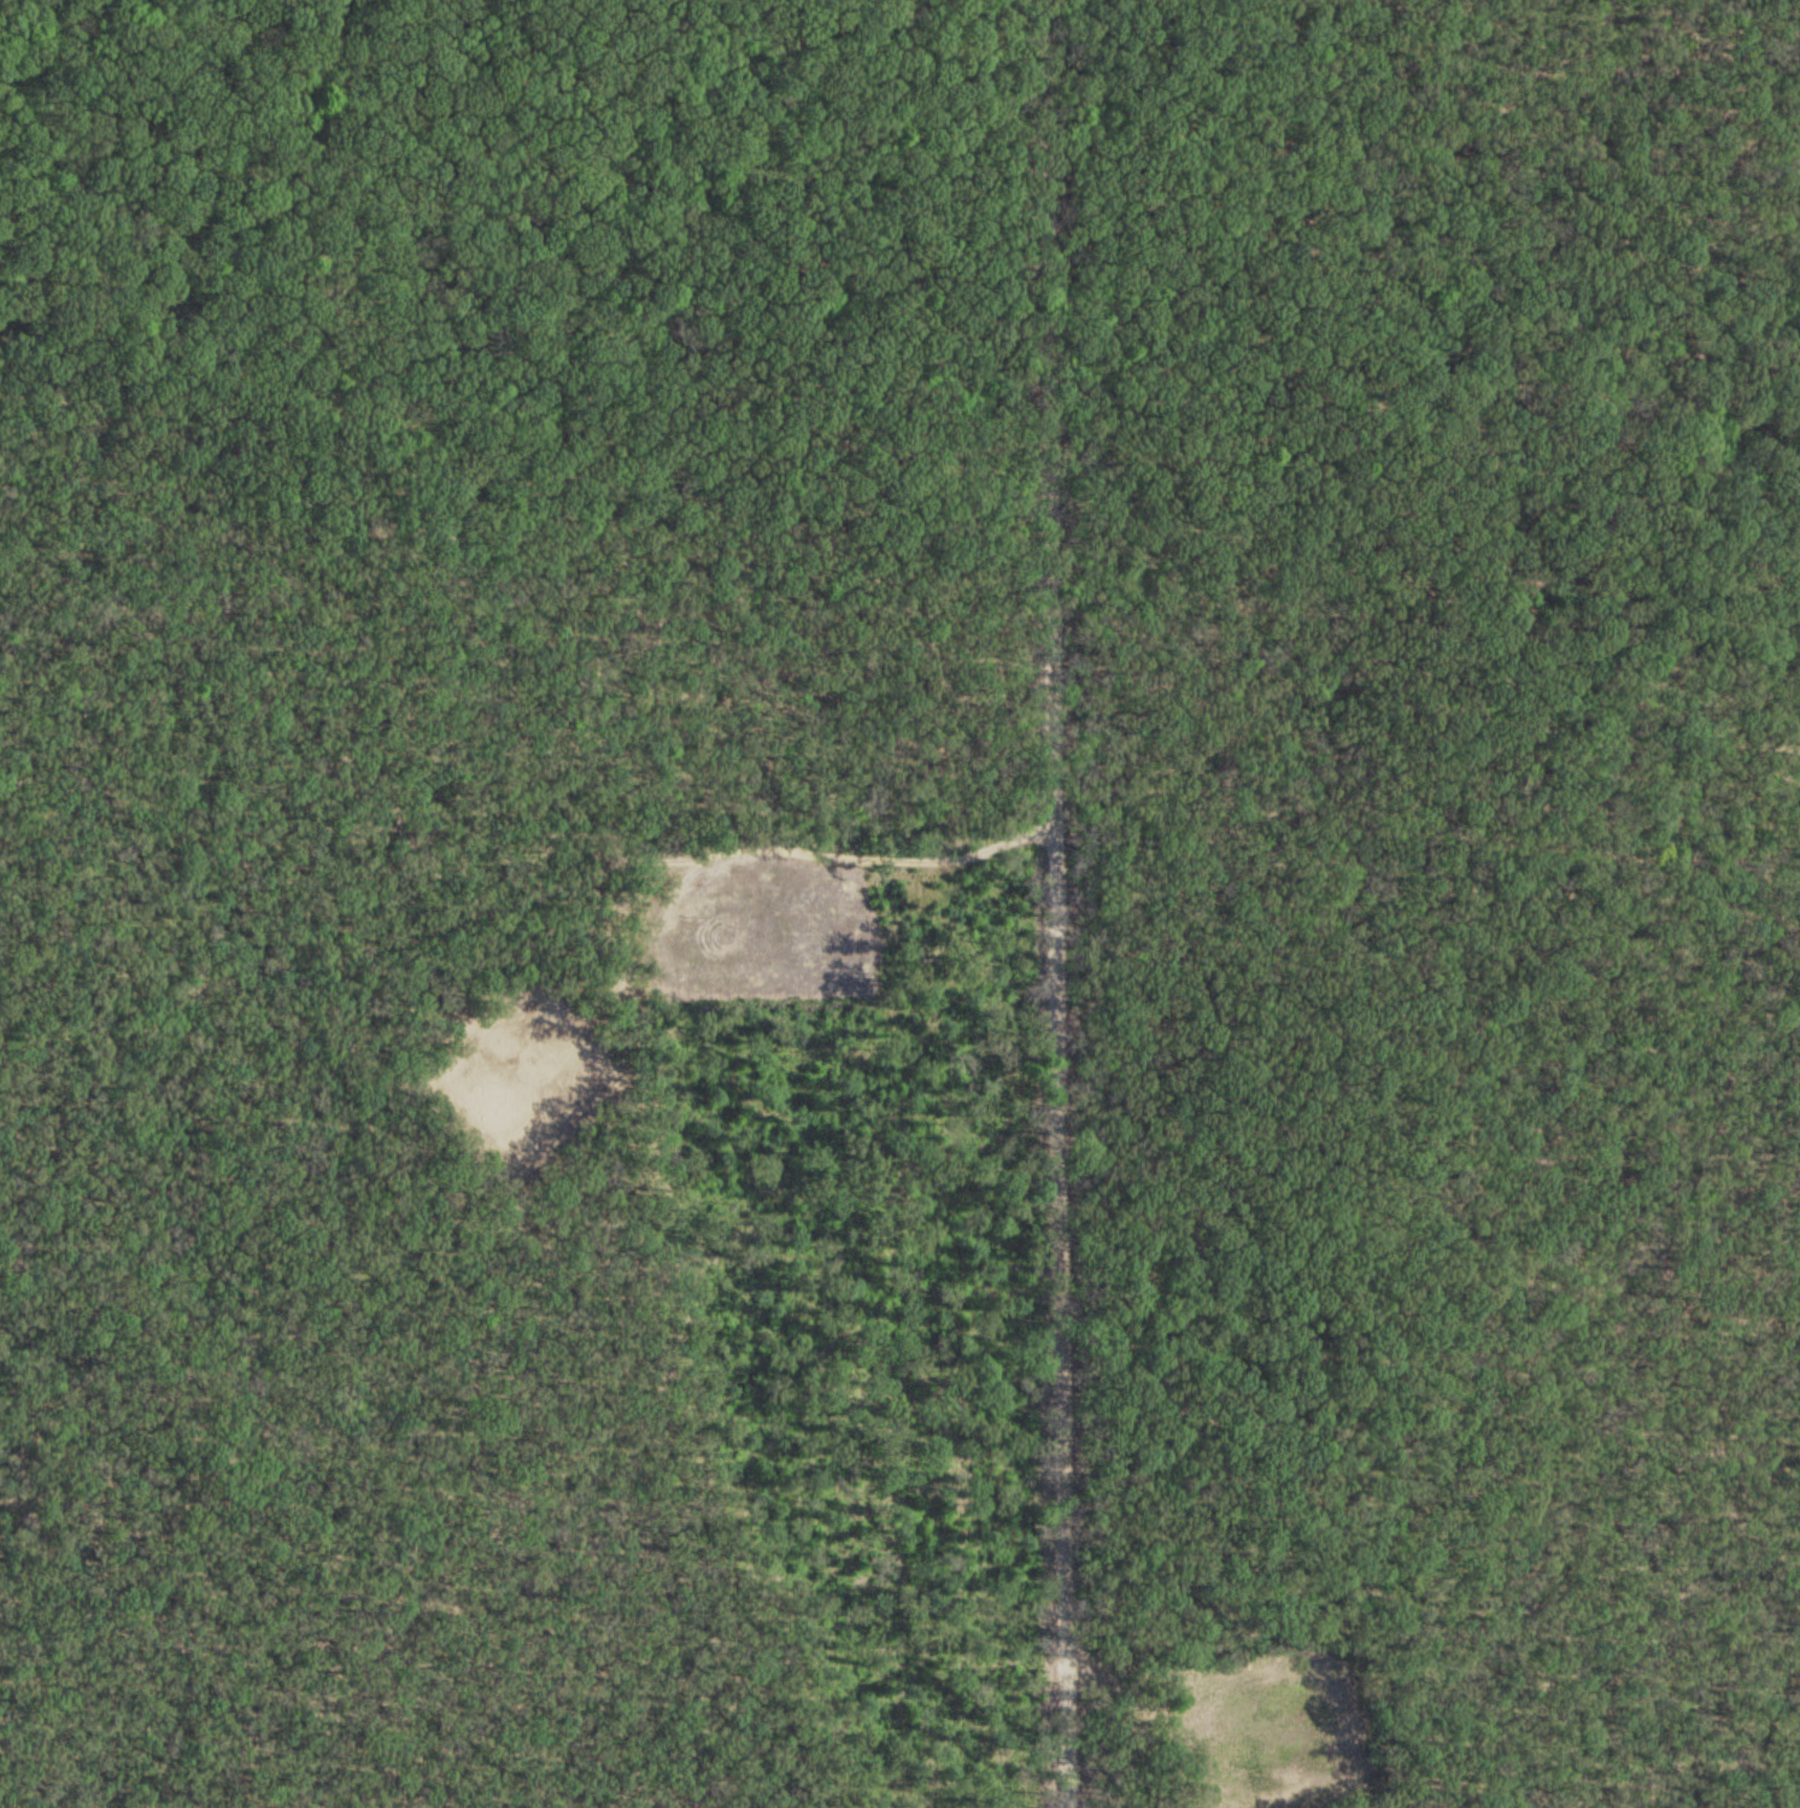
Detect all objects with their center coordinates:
road: (517, 893)
road: (1044, 903)
petroleum well: (528, 1089)

